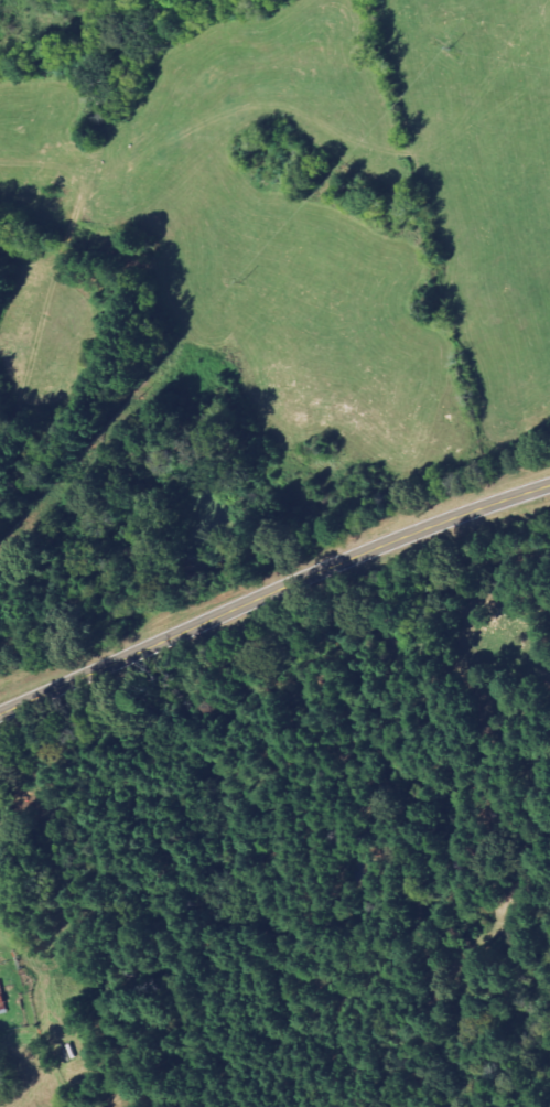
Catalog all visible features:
road: (271, 589)
building: (3, 1000)

